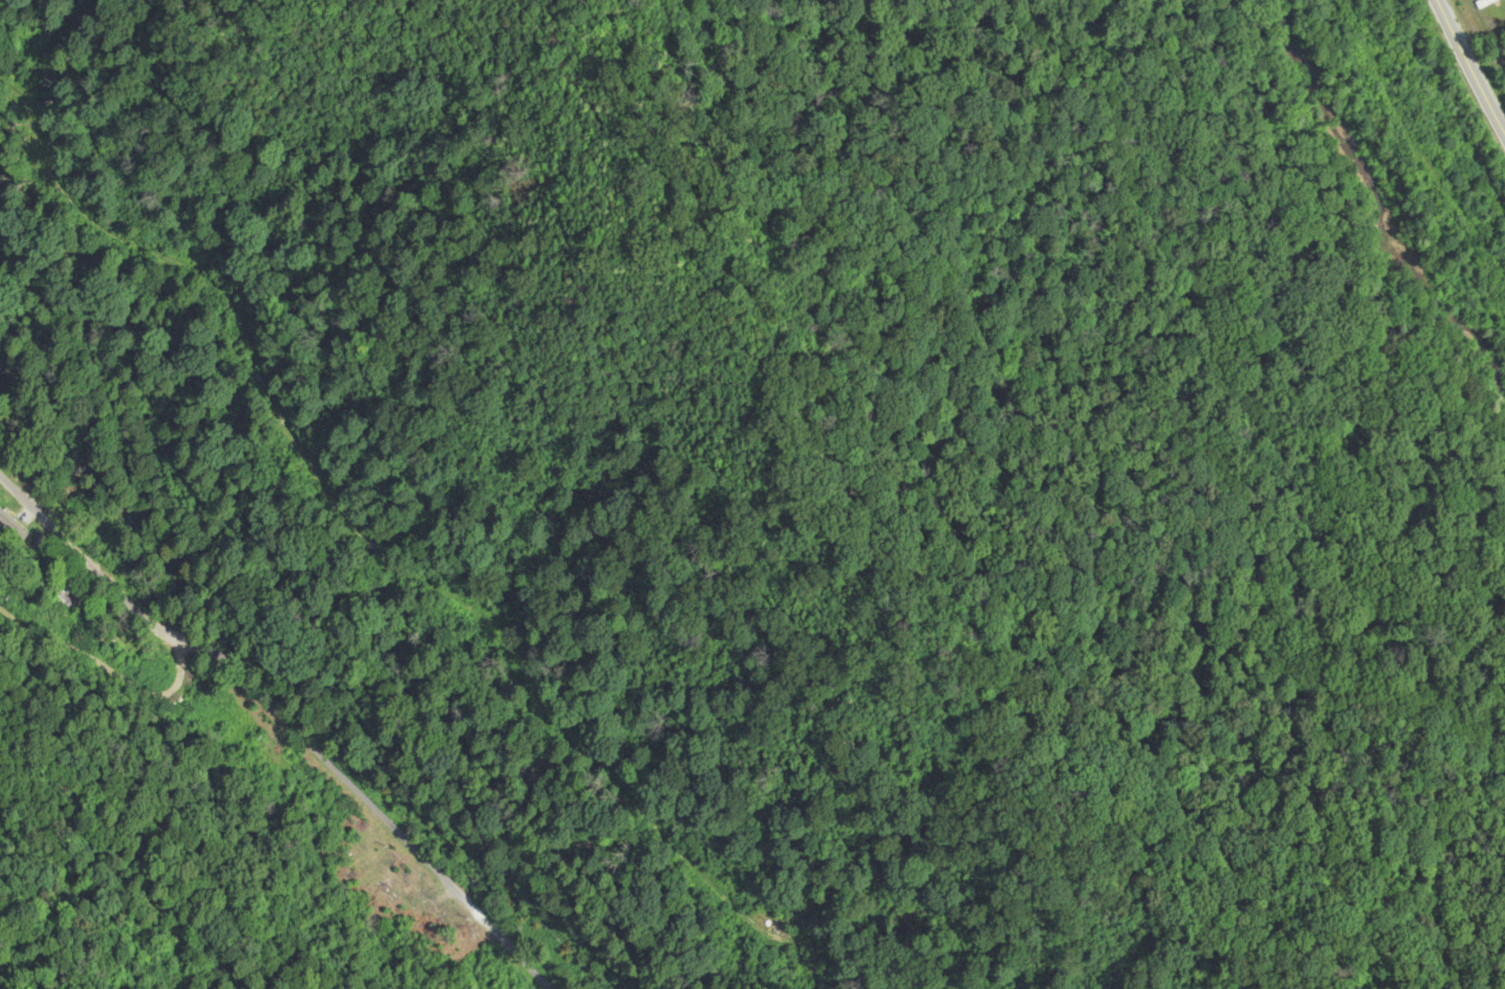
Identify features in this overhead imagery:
building: (1484, 3)
road: (1463, 89)
building: (18, 532)
building: (67, 595)
road: (292, 685)

